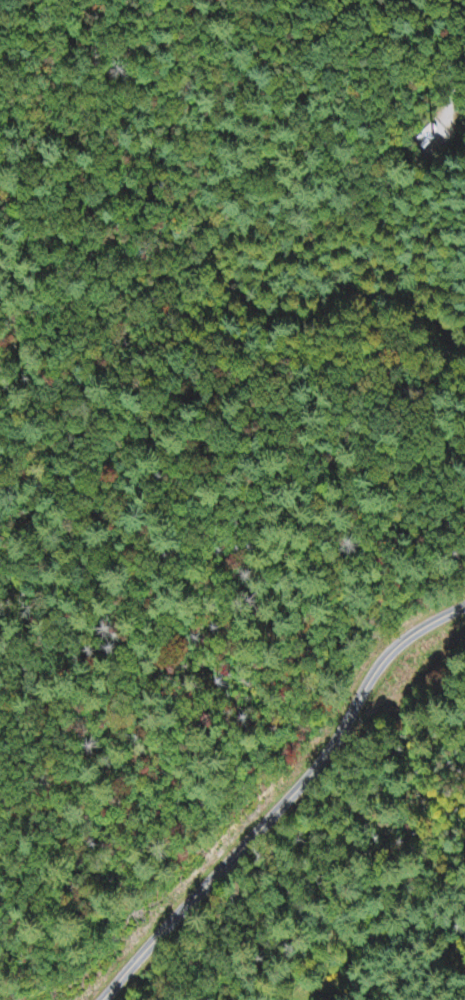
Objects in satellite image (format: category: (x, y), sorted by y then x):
road: (285, 801)

